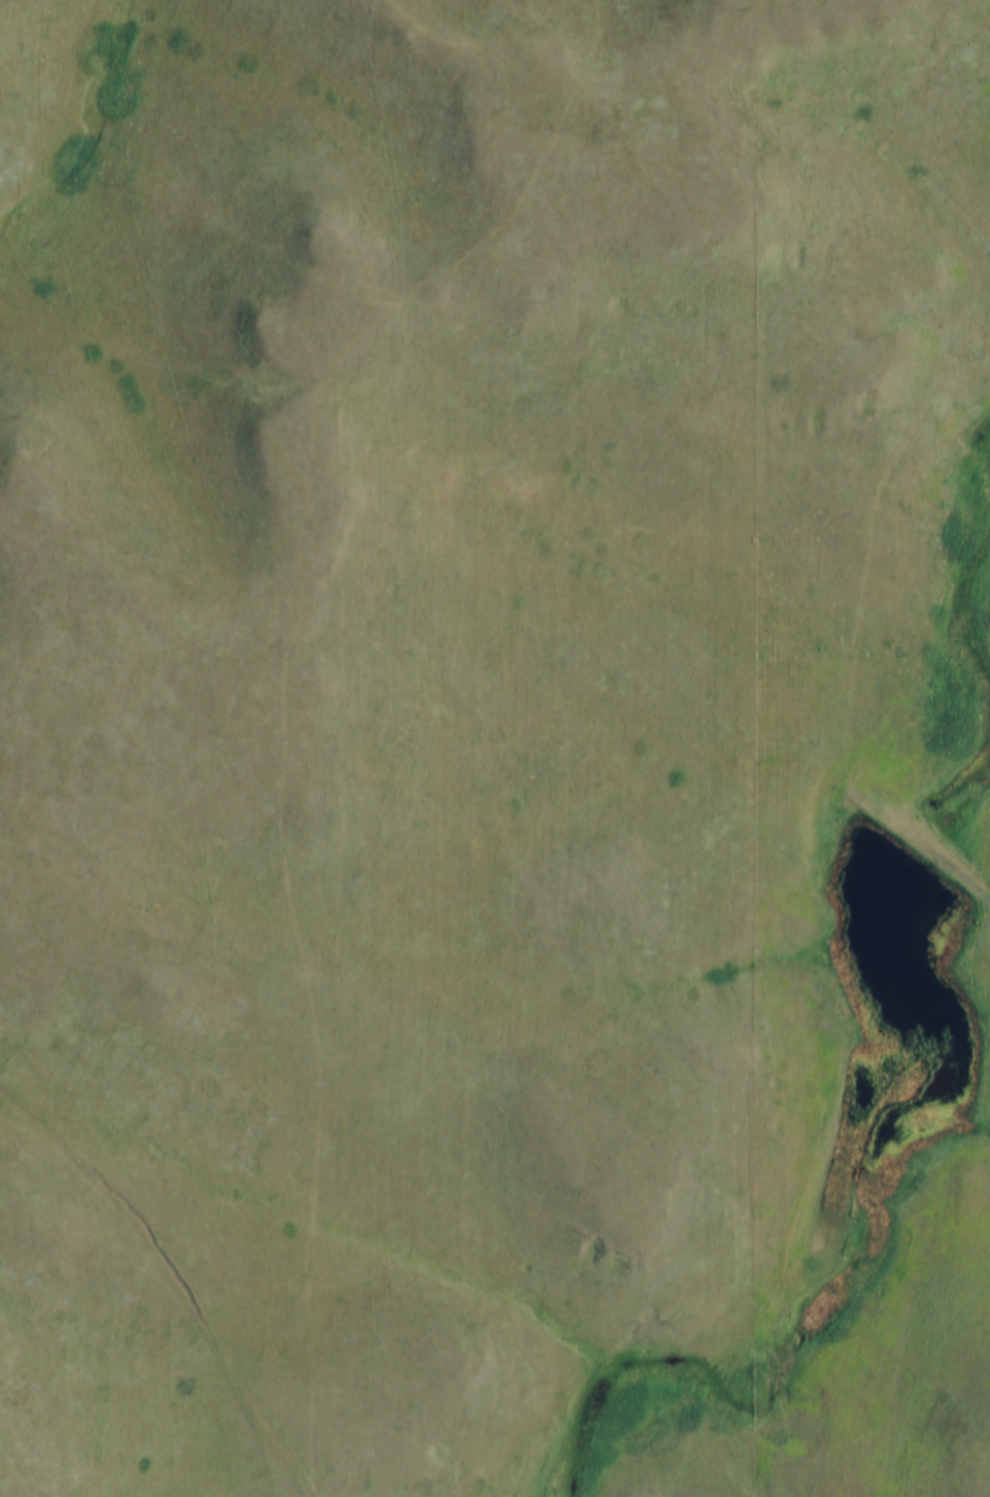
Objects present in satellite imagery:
dam: (909, 835)
road: (892, 1339)

